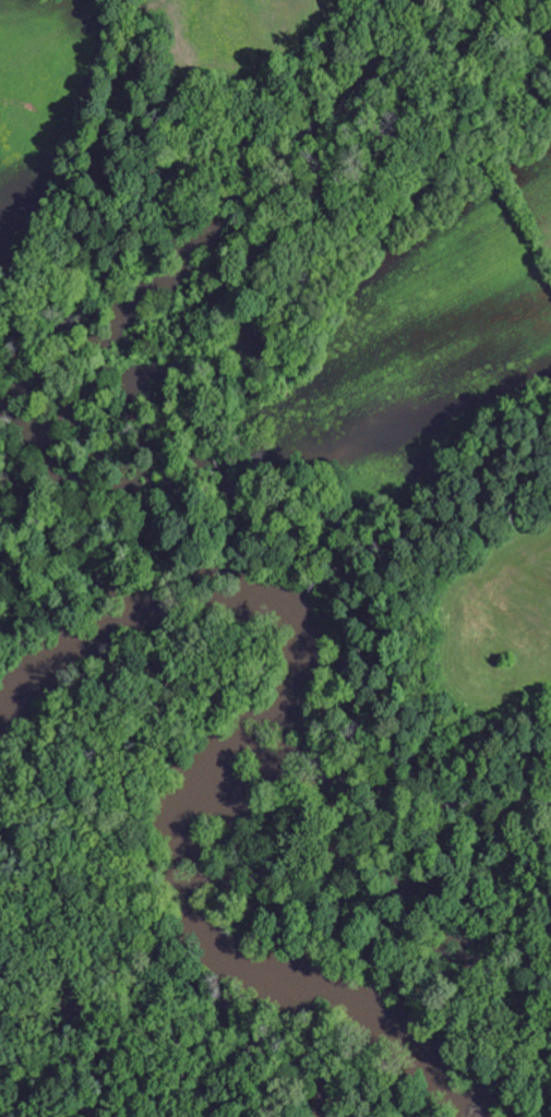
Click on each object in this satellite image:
river: (232, 745)

